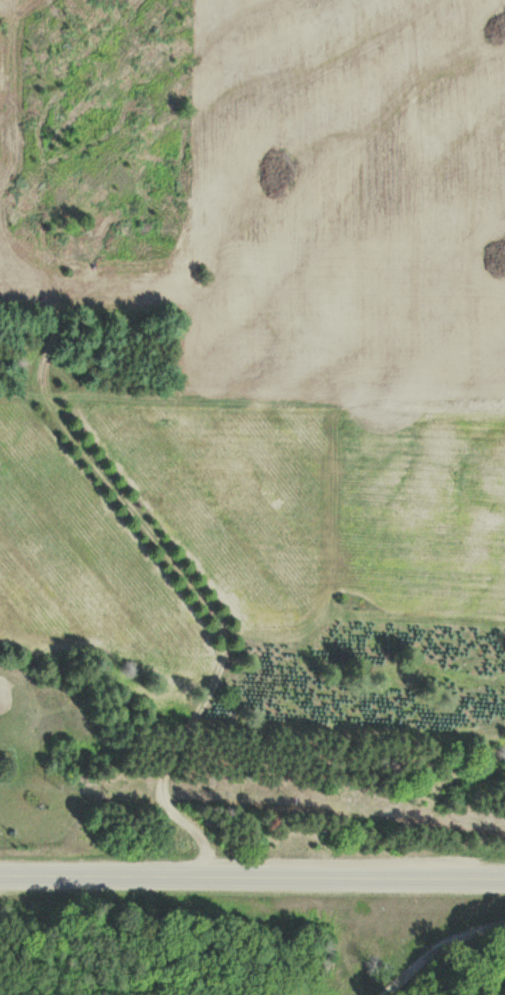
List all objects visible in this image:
road: (252, 877)

